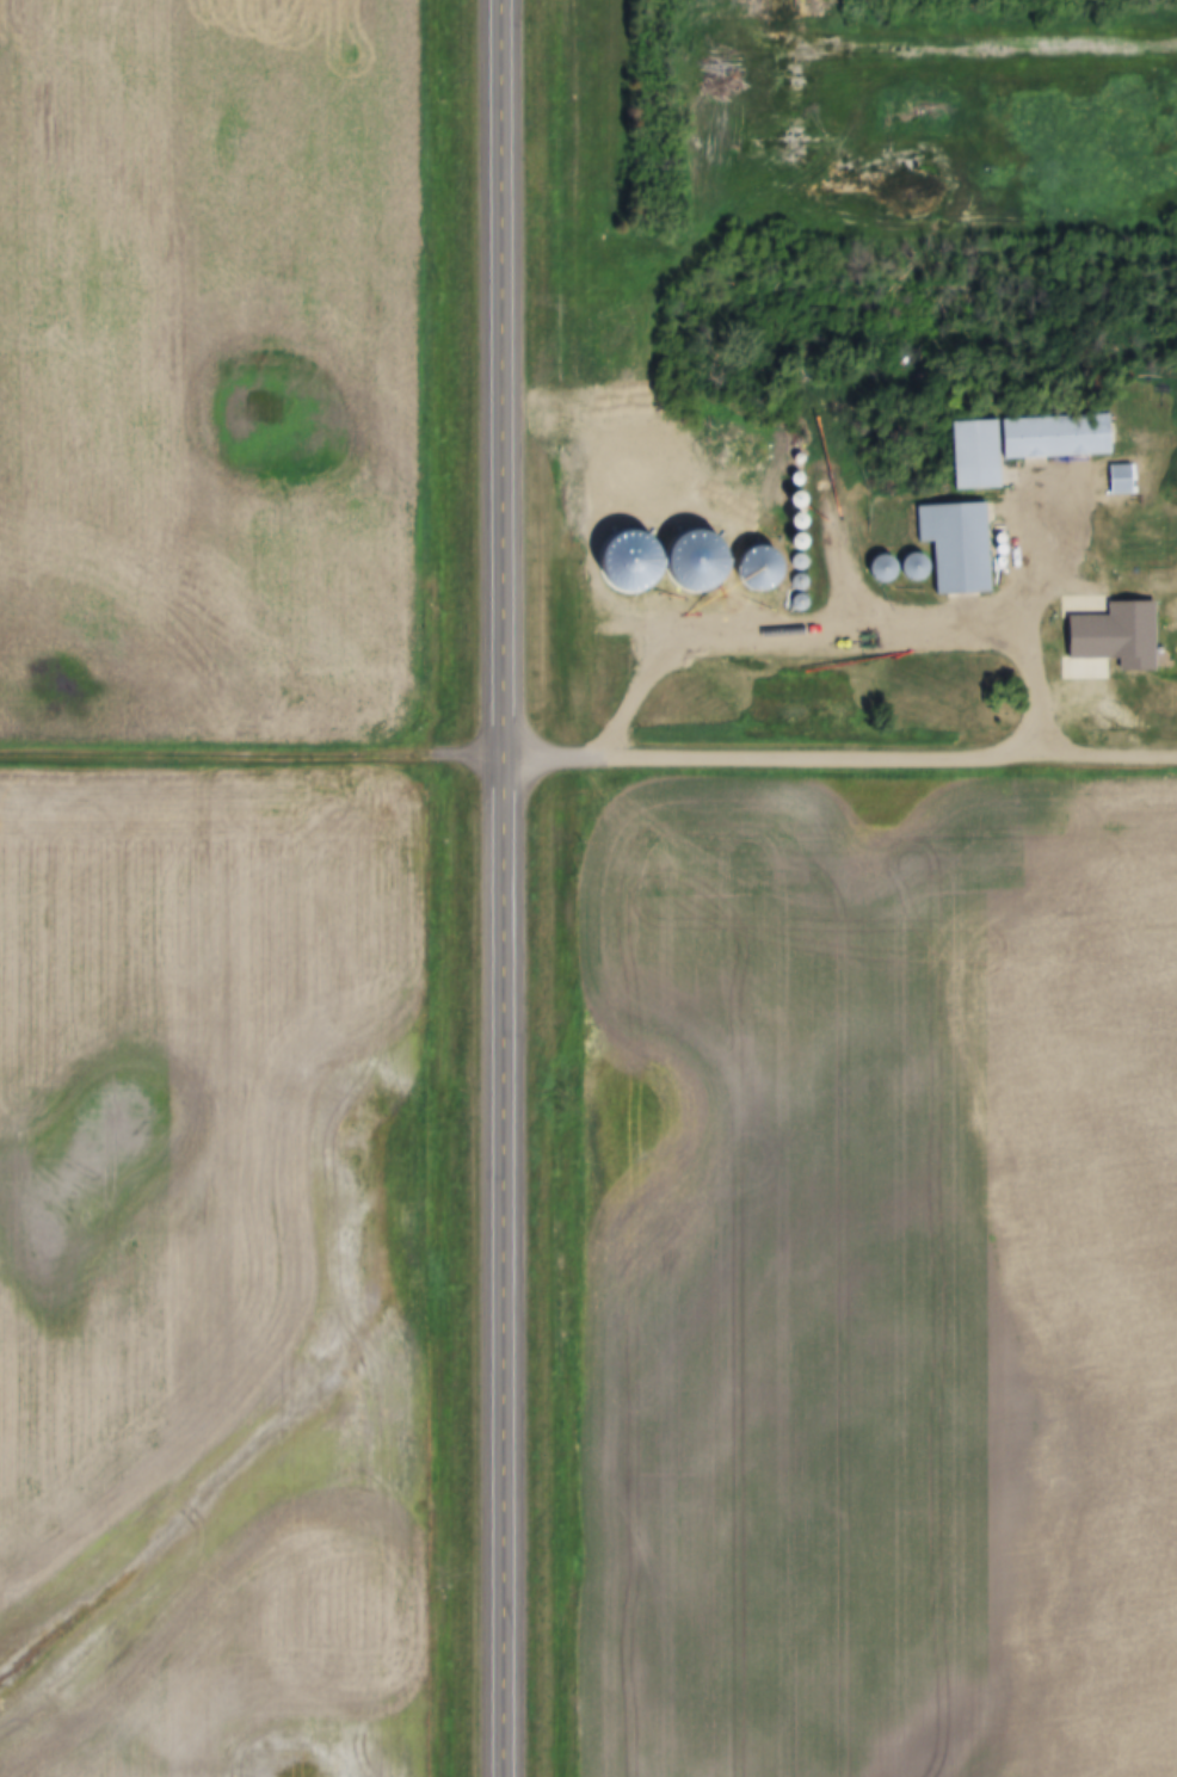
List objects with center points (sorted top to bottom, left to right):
building: (1124, 401)
building: (1011, 444)
building: (789, 480)
building: (1111, 480)
building: (947, 548)
building: (741, 569)
road: (843, 631)
building: (1127, 637)
building: (1060, 677)
road: (261, 752)
road: (850, 752)
road: (523, 888)

